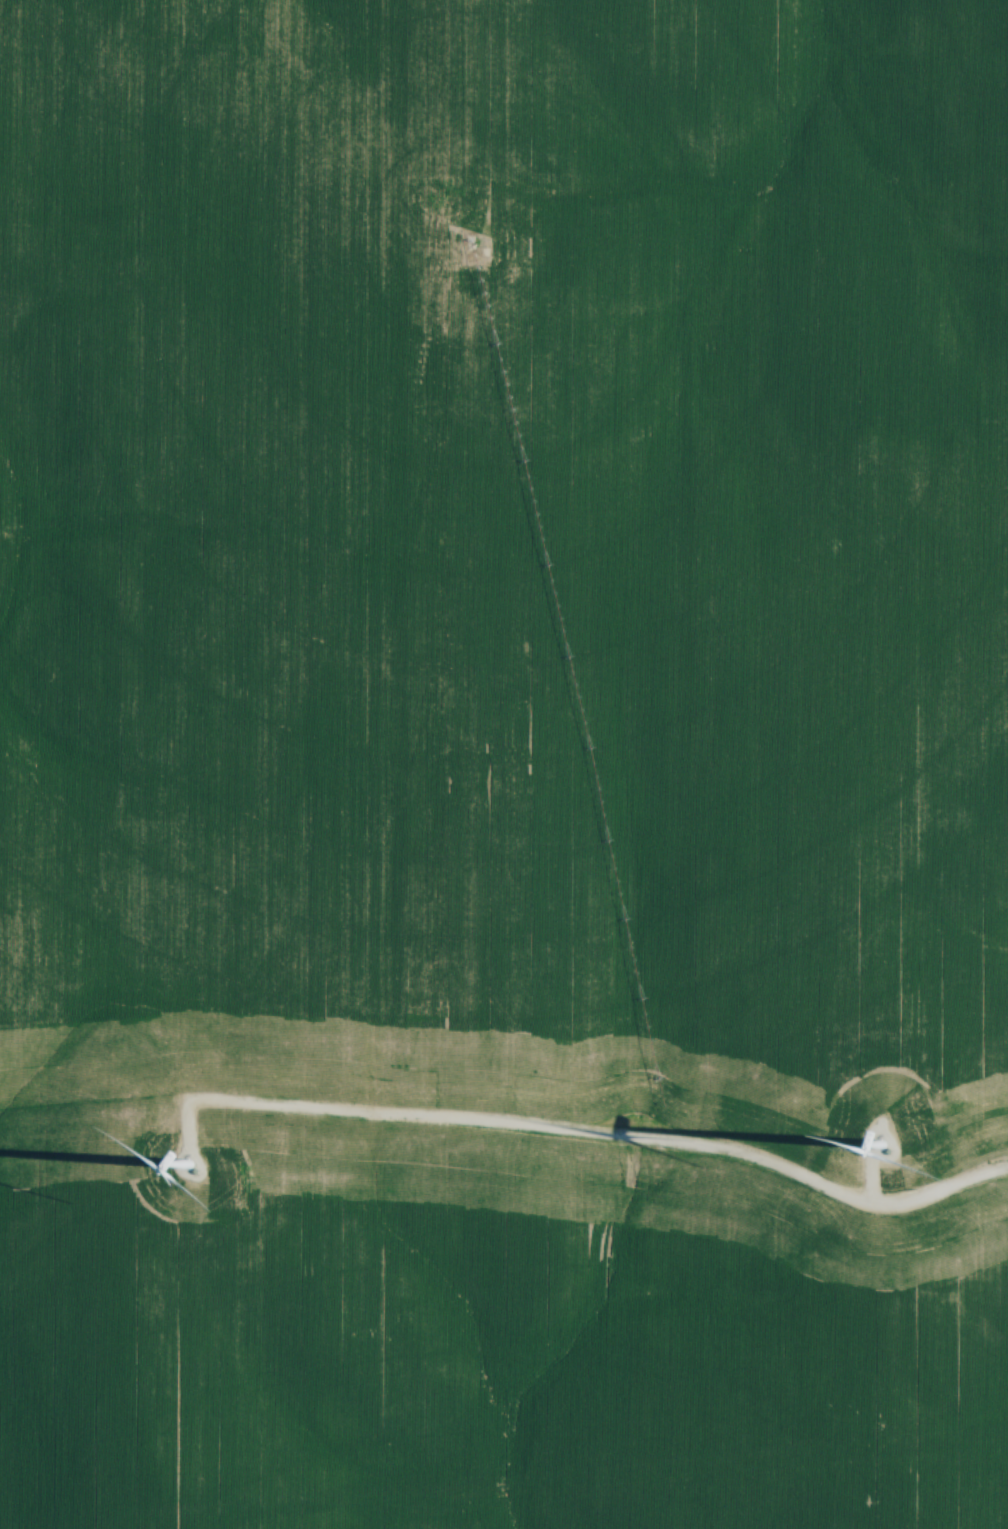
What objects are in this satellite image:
road: (585, 1131)
wind turbine: (882, 1143)
wind turbine: (188, 1163)

